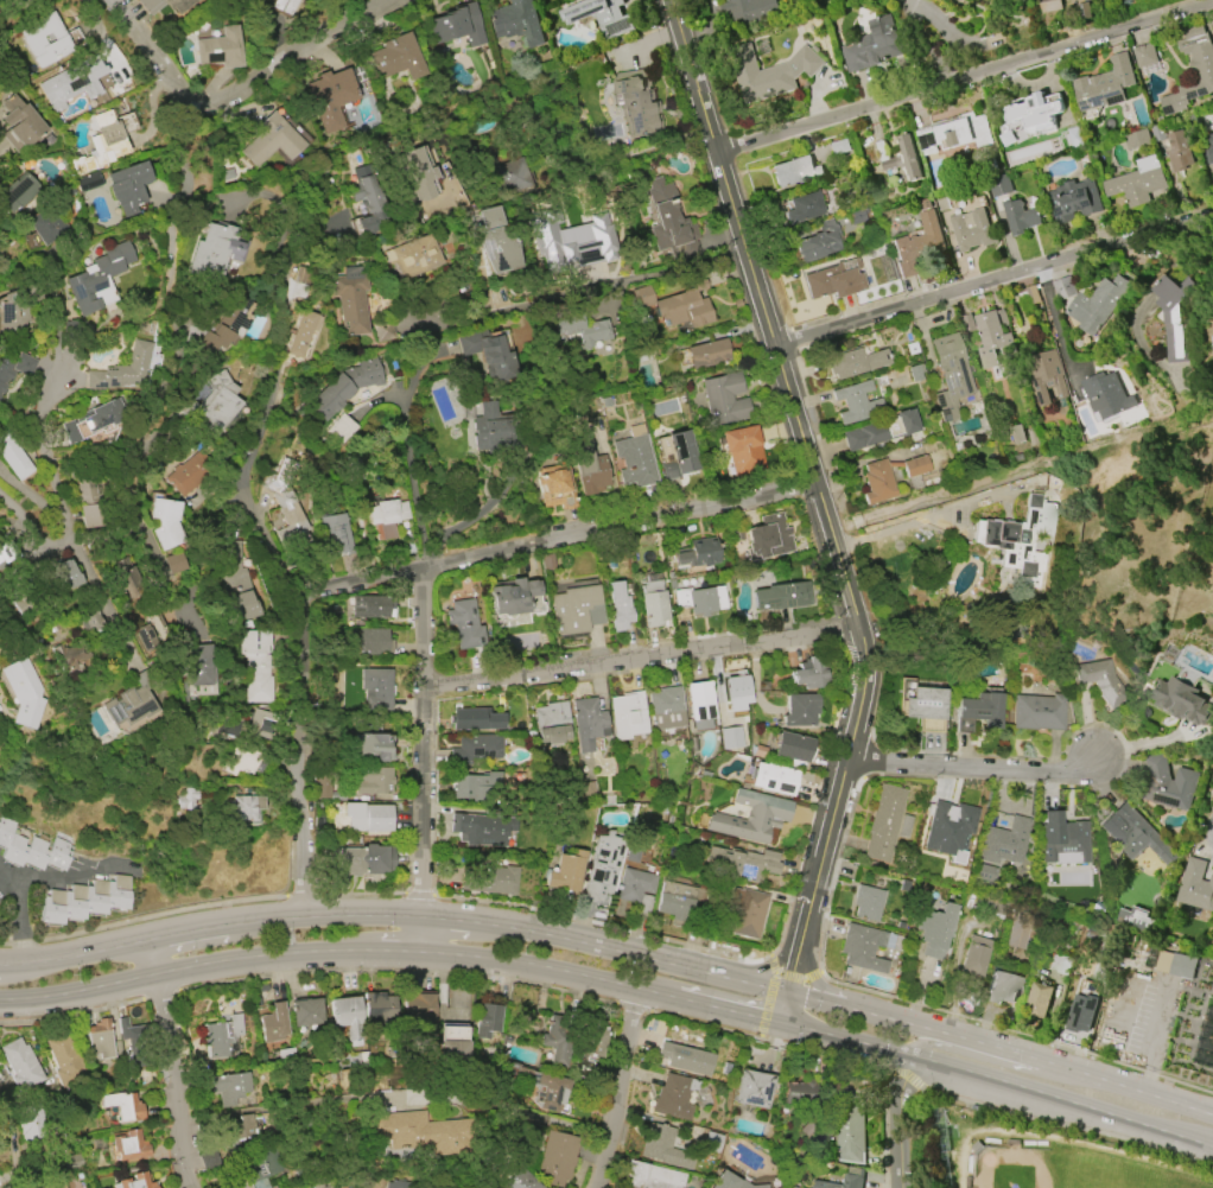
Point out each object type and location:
building: (1, 0)
building: (23, 2)
building: (167, 5)
building: (1052, 5)
building: (282, 6)
building: (749, 11)
building: (602, 15)
building: (516, 21)
building: (457, 25)
road: (953, 34)
building: (45, 39)
building: (874, 45)
building: (218, 49)
building: (1145, 56)
building: (395, 58)
building: (1204, 70)
building: (769, 71)
road: (965, 81)
building: (70, 83)
building: (1104, 85)
road: (241, 91)
building: (331, 96)
building: (636, 102)
building: (1034, 113)
building: (19, 122)
building: (955, 133)
building: (273, 139)
building: (1137, 139)
building: (104, 141)
building: (1211, 146)
building: (1179, 151)
building: (908, 159)
building: (794, 171)
building: (418, 173)
building: (507, 176)
building: (87, 182)
building: (1137, 182)
building: (999, 185)
building: (128, 188)
building: (18, 192)
building: (1074, 201)
building: (369, 204)
building: (802, 208)
building: (1021, 218)
building: (669, 221)
building: (46, 223)
building: (972, 230)
building: (920, 237)
building: (500, 241)
building: (819, 242)
building: (563, 246)
building: (211, 248)
building: (413, 255)
building: (96, 279)
road: (621, 280)
building: (834, 280)
road: (995, 282)
building: (643, 297)
building: (351, 300)
building: (1097, 304)
building: (685, 306)
building: (13, 312)
building: (1173, 313)
road: (285, 320)
road: (50, 322)
building: (227, 325)
building: (385, 330)
building: (579, 330)
building: (301, 332)
building: (993, 337)
building: (488, 352)
building: (707, 354)
building: (855, 362)
building: (14, 369)
building: (121, 370)
building: (951, 374)
road: (417, 375)
building: (1048, 379)
building: (347, 387)
building: (1107, 394)
building: (725, 399)
building: (215, 402)
building: (856, 402)
building: (93, 420)
building: (344, 427)
building: (881, 430)
building: (494, 431)
building: (1016, 434)
road: (47, 449)
building: (743, 450)
building: (678, 455)
building: (12, 457)
building: (634, 459)
building: (589, 466)
building: (192, 472)
road: (413, 482)
building: (878, 483)
building: (554, 487)
road: (243, 495)
road: (815, 495)
building: (88, 506)
road: (127, 506)
building: (288, 514)
road: (938, 516)
building: (387, 517)
road: (960, 520)
building: (166, 523)
building: (337, 533)
building: (1016, 538)
building: (769, 539)
building: (696, 554)
building: (0, 560)
road: (24, 560)
building: (174, 563)
road: (402, 572)
building: (62, 576)
building: (123, 577)
building: (236, 585)
building: (513, 596)
building: (781, 597)
building: (699, 599)
building: (652, 601)
road: (97, 603)
building: (535, 604)
building: (371, 606)
building: (618, 606)
building: (576, 610)
building: (83, 623)
building: (464, 624)
building: (148, 631)
building: (373, 642)
building: (63, 656)
road: (640, 663)
building: (198, 665)
building: (256, 665)
building: (808, 674)
building: (1100, 681)
building: (377, 688)
building: (735, 690)
building: (15, 693)
building: (1183, 699)
building: (123, 700)
building: (699, 705)
building: (925, 707)
building: (665, 709)
building: (979, 709)
building: (800, 710)
building: (1039, 712)
building: (627, 714)
building: (475, 719)
building: (551, 722)
building: (588, 723)
building: (242, 724)
building: (732, 737)
building: (374, 747)
building: (475, 749)
building: (790, 749)
building: (244, 760)
road: (421, 760)
road: (974, 771)
building: (773, 779)
building: (375, 781)
building: (1168, 784)
building: (323, 786)
building: (475, 787)
building: (184, 799)
building: (243, 808)
building: (748, 815)
building: (367, 817)
building: (883, 822)
building: (482, 828)
building: (950, 828)
building: (1135, 834)
building: (1061, 838)
building: (1004, 841)
building: (31, 849)
building: (745, 862)
building: (339, 864)
building: (602, 866)
road: (5, 871)
building: (565, 871)
building: (984, 872)
road: (30, 878)
building: (490, 881)
building: (1196, 887)
building: (636, 889)
building: (0, 900)
building: (83, 900)
building: (677, 902)
building: (866, 902)
building: (747, 911)
building: (1136, 919)
road: (469, 923)
building: (1017, 928)
building: (935, 929)
building: (862, 947)
building: (974, 957)
road: (469, 958)
road: (74, 959)
road: (151, 959)
road: (776, 965)
building: (1176, 965)
road: (813, 972)
building: (1003, 987)
road: (77, 993)
traffic signals: (786, 995)
building: (1040, 999)
building: (376, 1006)
building: (415, 1009)
road: (782, 1010)
building: (306, 1012)
building: (1084, 1012)
building: (344, 1016)
building: (484, 1021)
building: (273, 1023)
traffic signals: (779, 1025)
building: (223, 1037)
building: (558, 1037)
building: (100, 1040)
road: (1158, 1041)
building: (1205, 1041)
building: (449, 1046)
road: (999, 1052)
building: (685, 1057)
building: (65, 1061)
building: (20, 1065)
road: (1015, 1066)
road: (177, 1082)
road: (996, 1082)
building: (229, 1087)
building: (541, 1087)
road: (618, 1088)
building: (754, 1088)
building: (800, 1093)
building: (674, 1097)
building: (121, 1106)
building: (30, 1122)
road: (907, 1123)
building: (242, 1126)
building: (849, 1129)
building: (415, 1132)
building: (129, 1145)
building: (662, 1148)
building: (554, 1157)
building: (256, 1167)
park: (1060, 1169)
building: (649, 1176)
building: (517, 1180)
building: (844, 1180)
building: (135, 1182)
building: (731, 1182)
building: (325, 1183)
building: (56, 1186)
building: (390, 1186)

